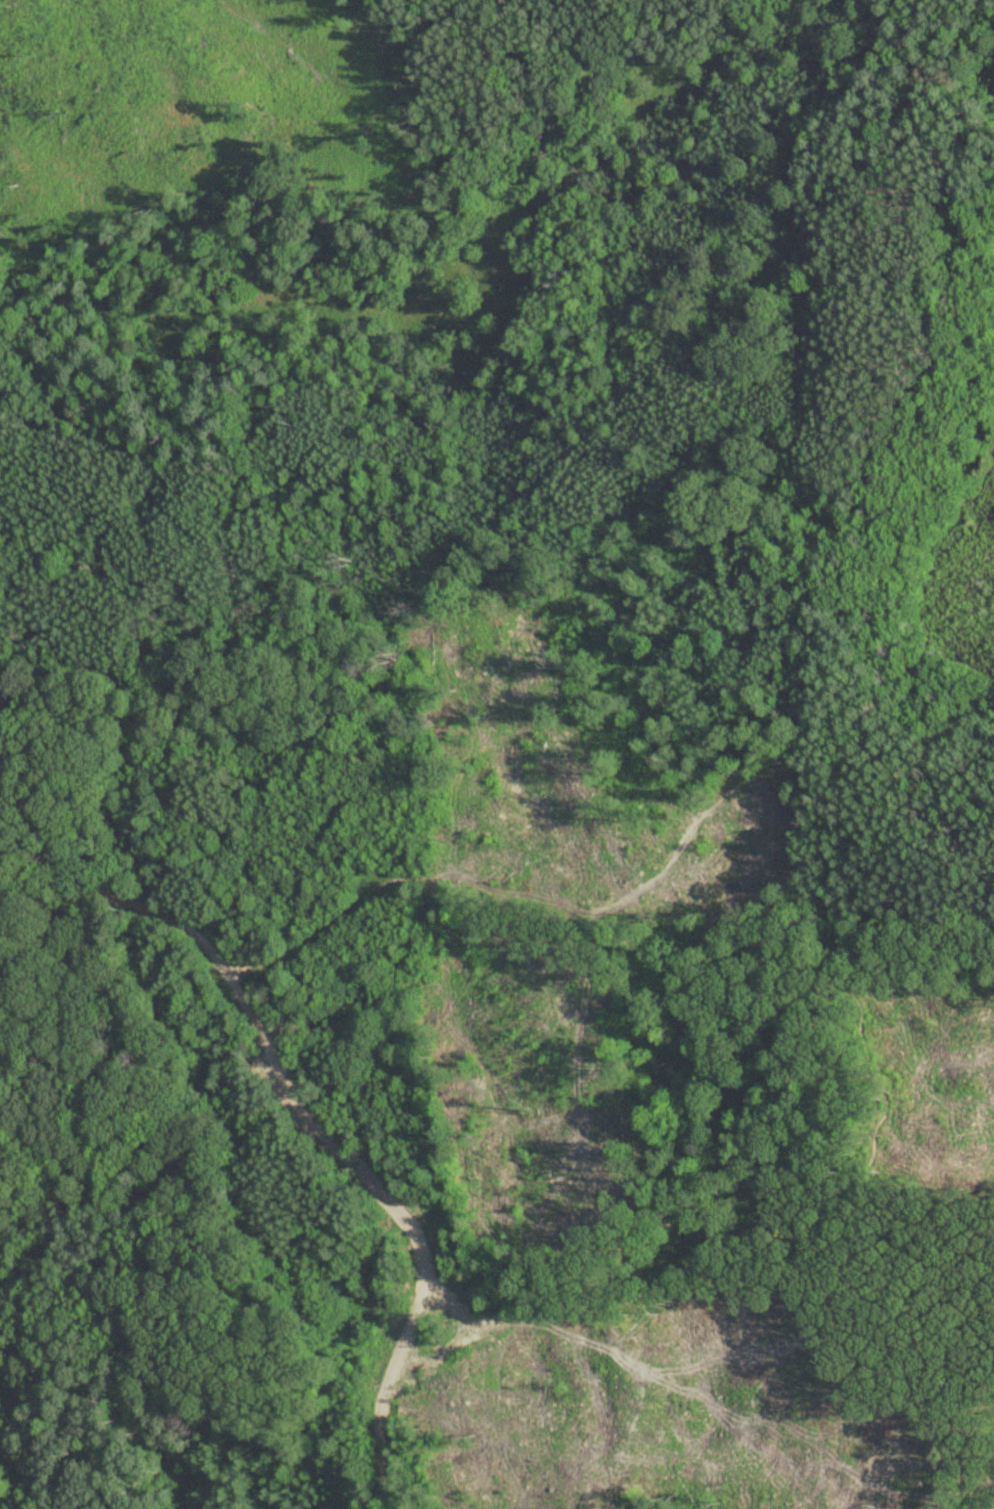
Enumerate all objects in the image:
road: (683, 862)
road: (315, 1124)
road: (991, 1501)

